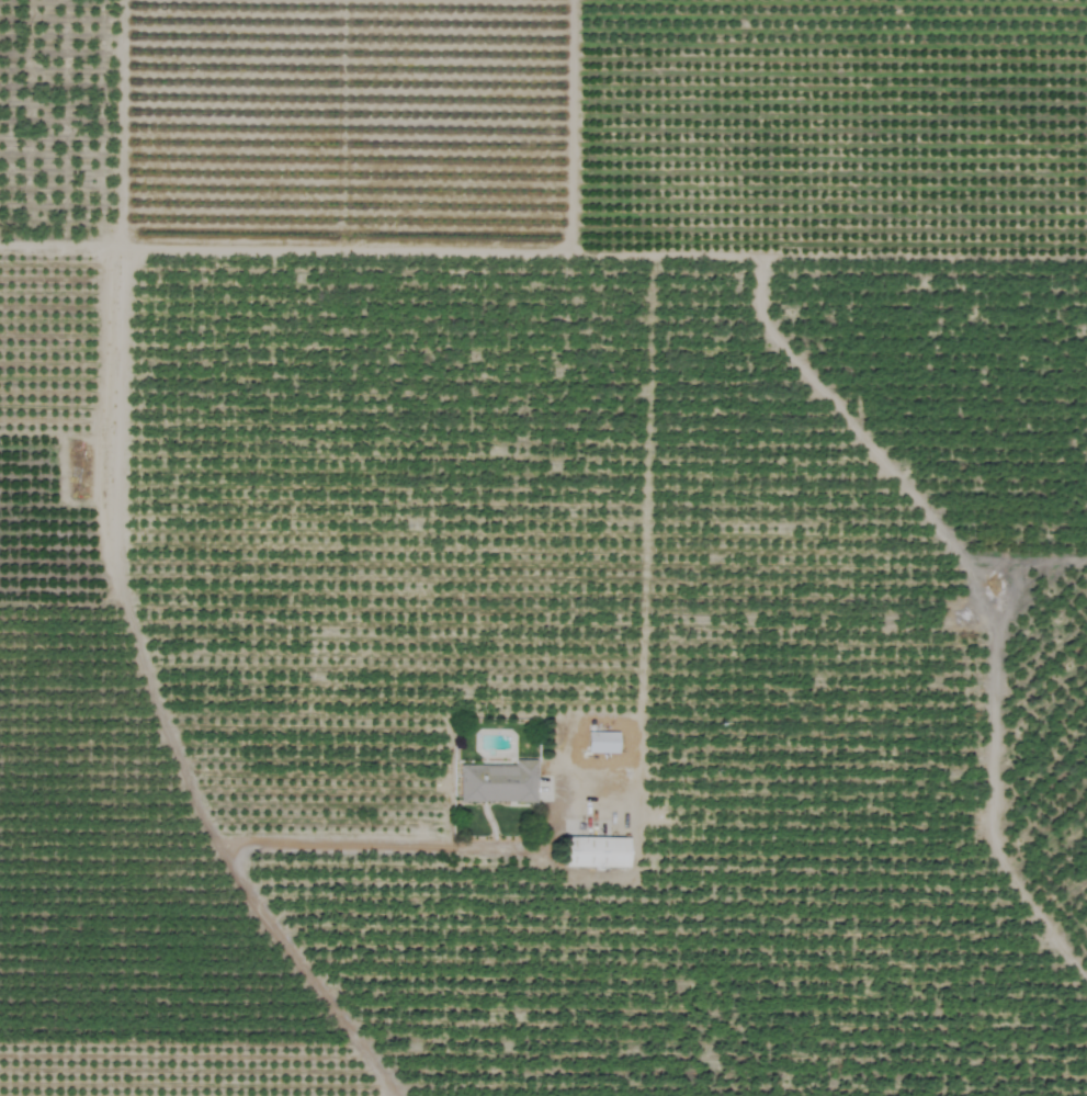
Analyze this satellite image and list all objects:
crop: (543, 547)
building: (601, 742)
building: (497, 782)
road: (225, 844)
building: (595, 852)

